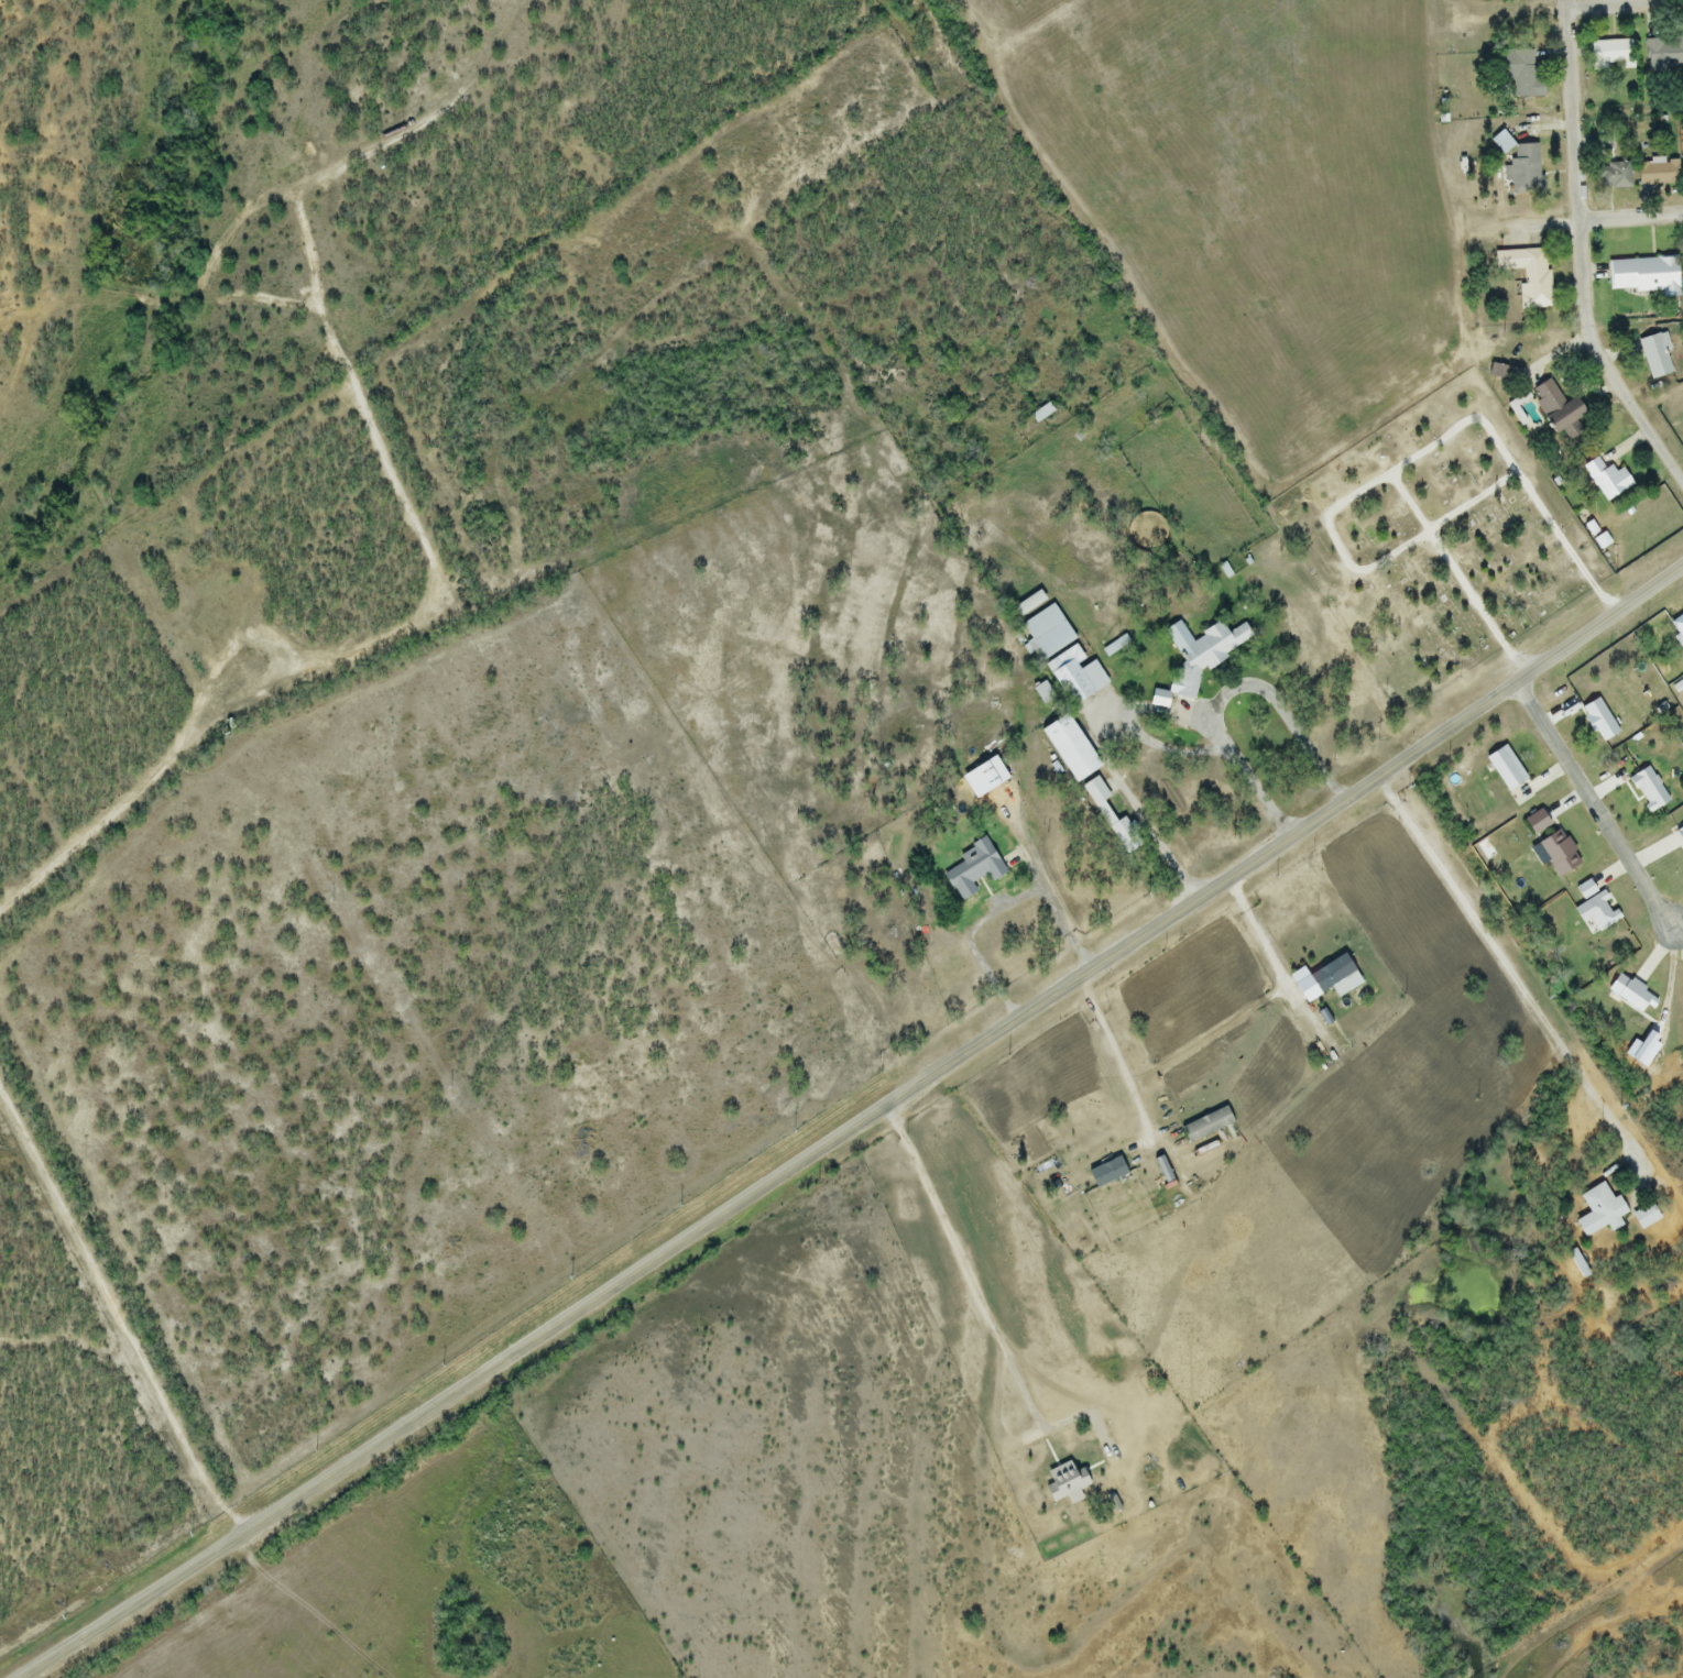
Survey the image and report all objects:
road: (1617, 3)
building: (1609, 53)
building: (1662, 54)
building: (1519, 75)
building: (1519, 165)
building: (1655, 173)
building: (1614, 174)
road: (1597, 222)
road: (1584, 256)
building: (1654, 355)
building: (1553, 407)
building: (1036, 417)
building: (1605, 479)
park: (1434, 541)
building: (1027, 604)
road: (422, 629)
building: (1045, 633)
building: (1195, 657)
road: (1533, 671)
building: (1073, 676)
road: (1231, 692)
road: (240, 705)
building: (1068, 748)
road: (1110, 765)
road: (1596, 803)
building: (1105, 810)
building: (977, 867)
road: (999, 908)
road: (1513, 969)
road: (1214, 1037)
building: (1598, 1213)
road: (701, 1231)
road: (984, 1306)
road: (119, 1317)
building: (1063, 1482)

